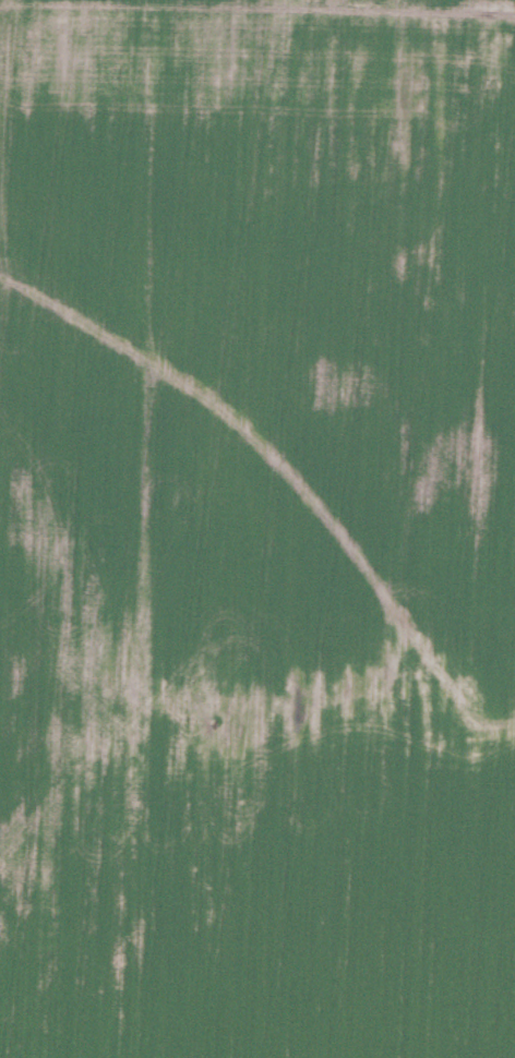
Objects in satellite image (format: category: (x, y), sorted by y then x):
crop: (257, 529)

